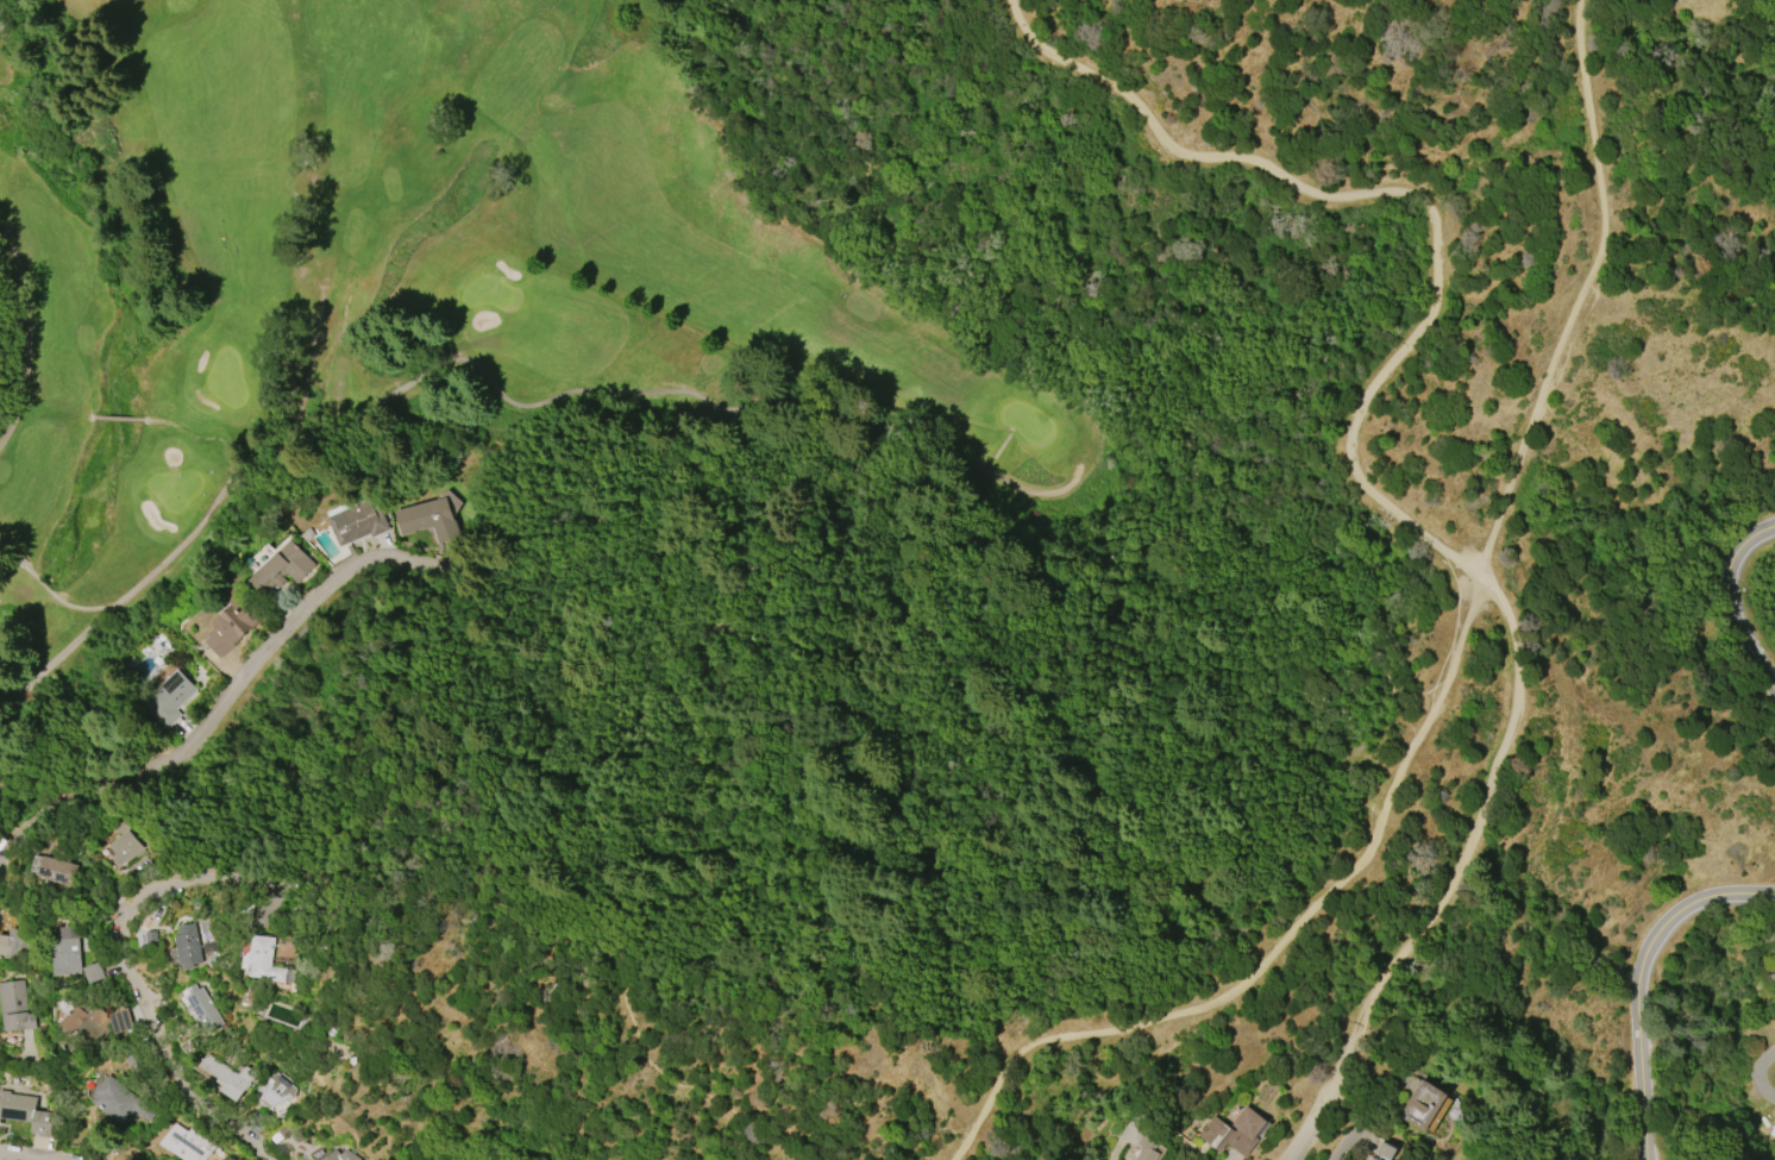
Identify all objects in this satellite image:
park: (407, 278)
park: (484, 290)
road: (1585, 290)
road: (18, 333)
park: (226, 380)
road: (716, 397)
park: (1022, 410)
road: (1367, 482)
park: (175, 488)
building: (427, 519)
building: (358, 521)
road: (171, 548)
building: (282, 566)
road: (1740, 606)
building: (232, 626)
road: (288, 628)
road: (62, 645)
road: (947, 676)
building: (169, 697)
road: (413, 779)
road: (81, 797)
building: (125, 847)
building: (57, 870)
road: (512, 874)
road: (1286, 943)
building: (10, 946)
building: (188, 946)
building: (65, 954)
building: (265, 961)
building: (94, 972)
road: (1647, 985)
road: (139, 992)
building: (15, 1007)
building: (202, 1010)
building: (76, 1021)
road: (1757, 1076)
building: (227, 1077)
building: (275, 1090)
building: (120, 1101)
building: (17, 1106)
building: (1424, 1106)
road: (1369, 1120)
building: (1217, 1130)
building: (184, 1143)
building: (1146, 1149)
building: (335, 1155)
road: (11, 1158)
building: (1372, 1159)

